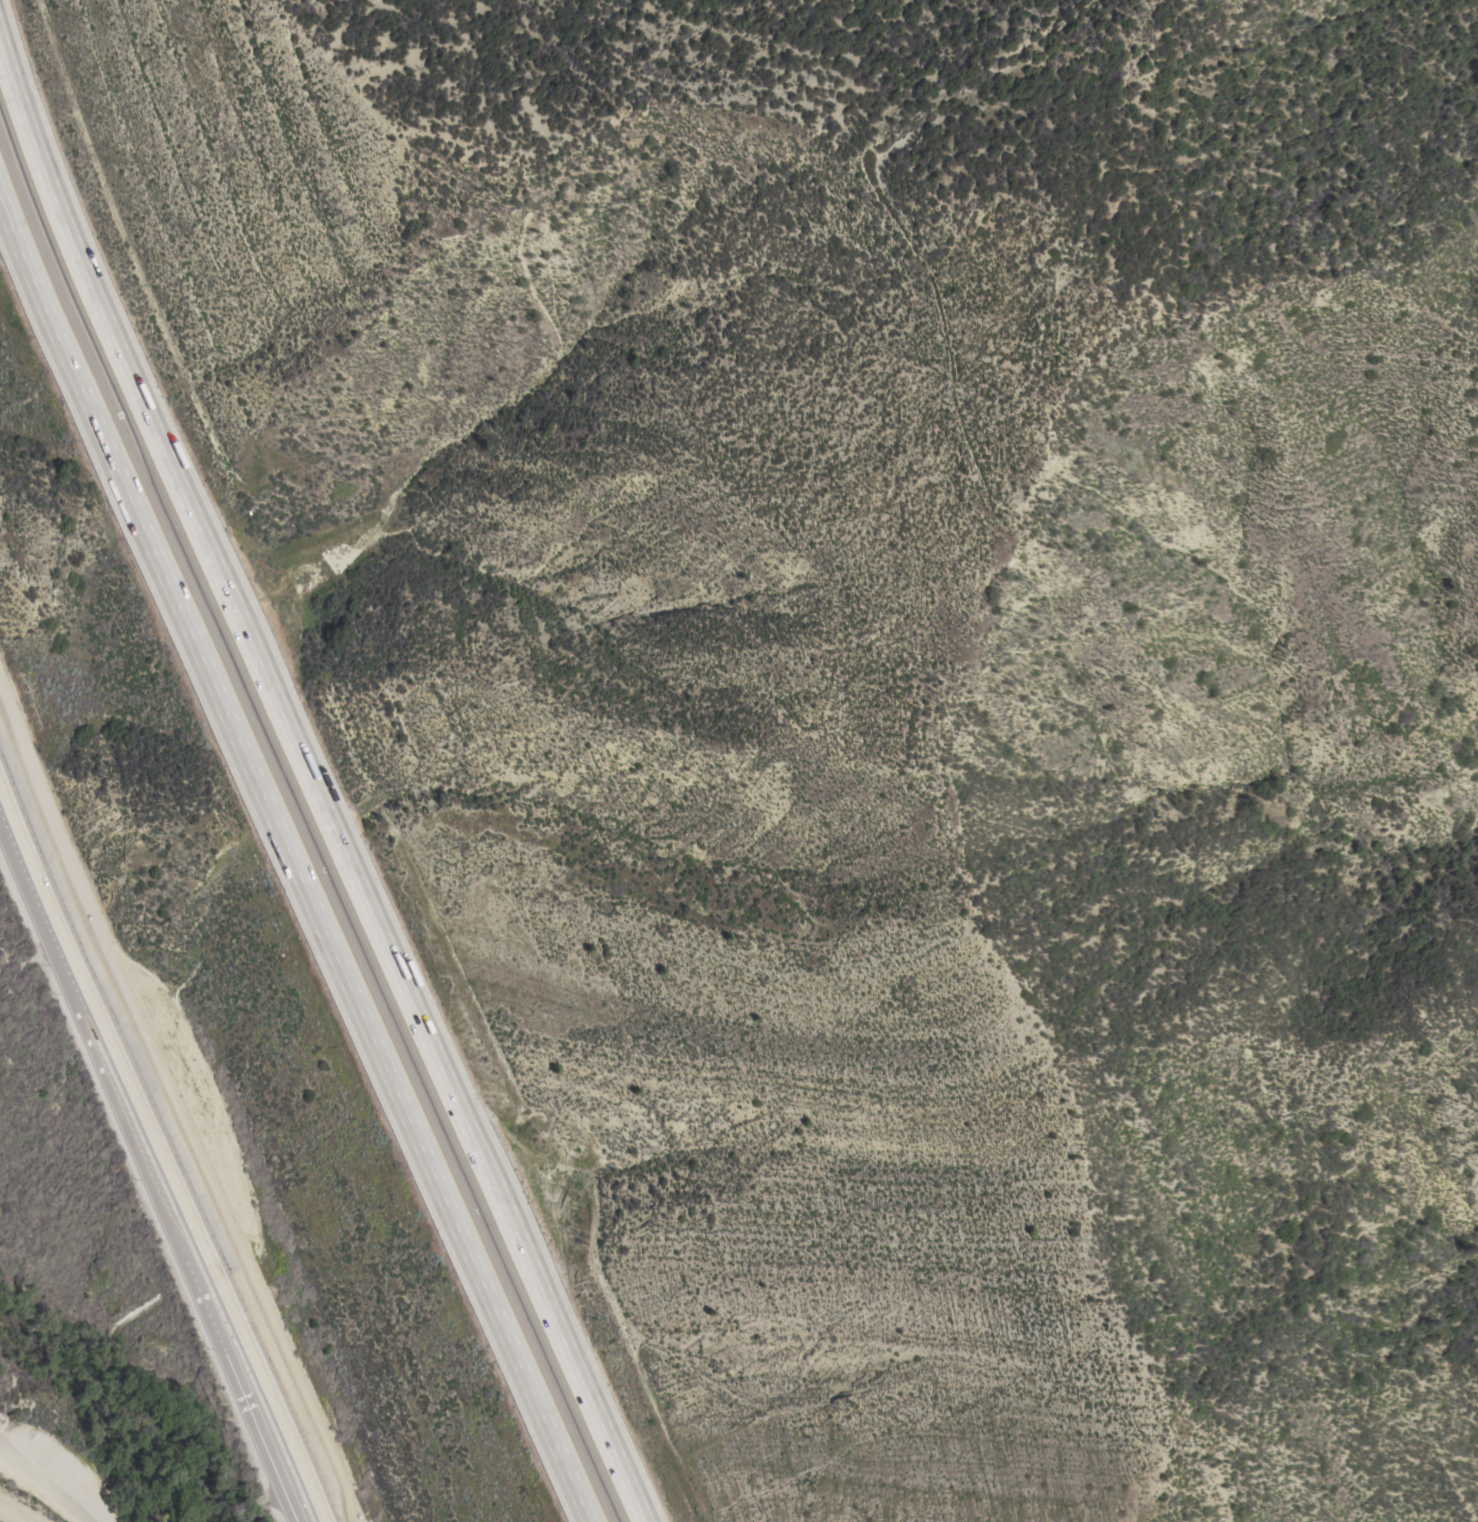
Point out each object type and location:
road: (315, 782)
road: (292, 863)
road: (179, 1098)
road: (163, 1147)
road: (38, 1480)

